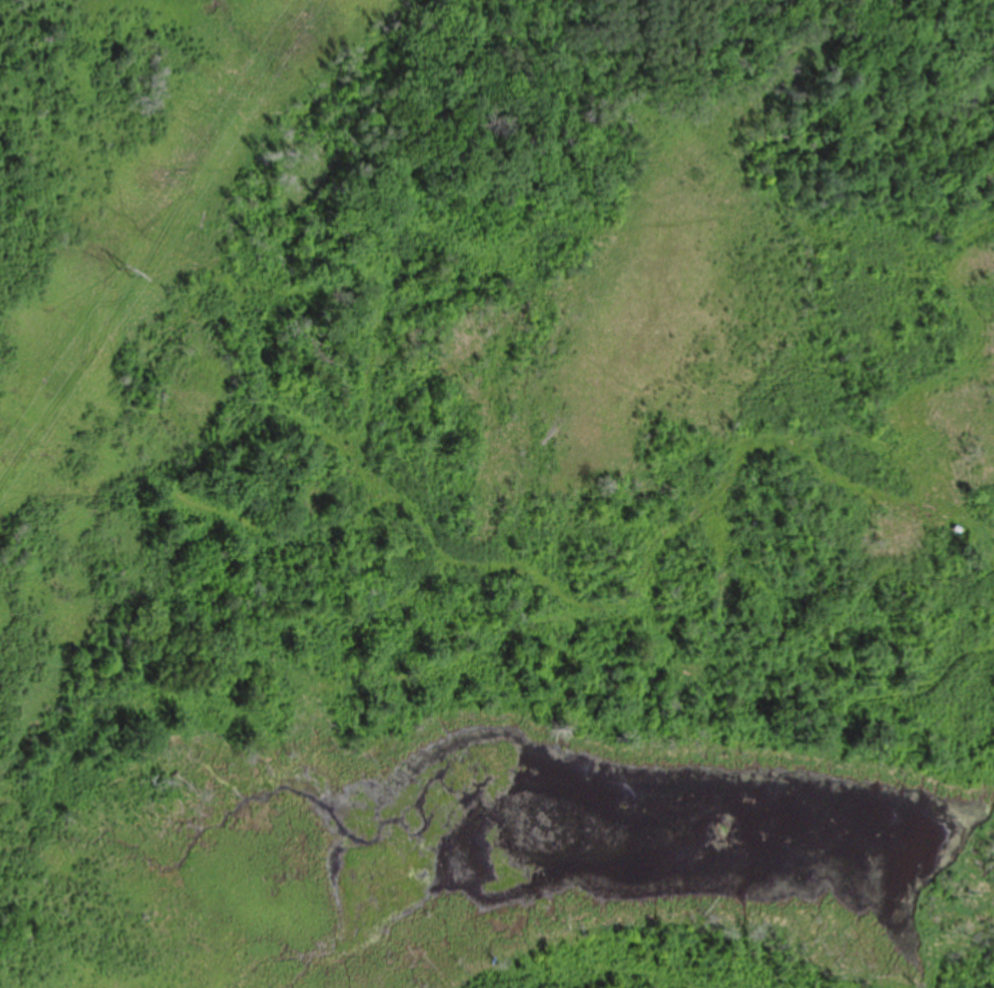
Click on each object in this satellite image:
power tower: (126, 272)

